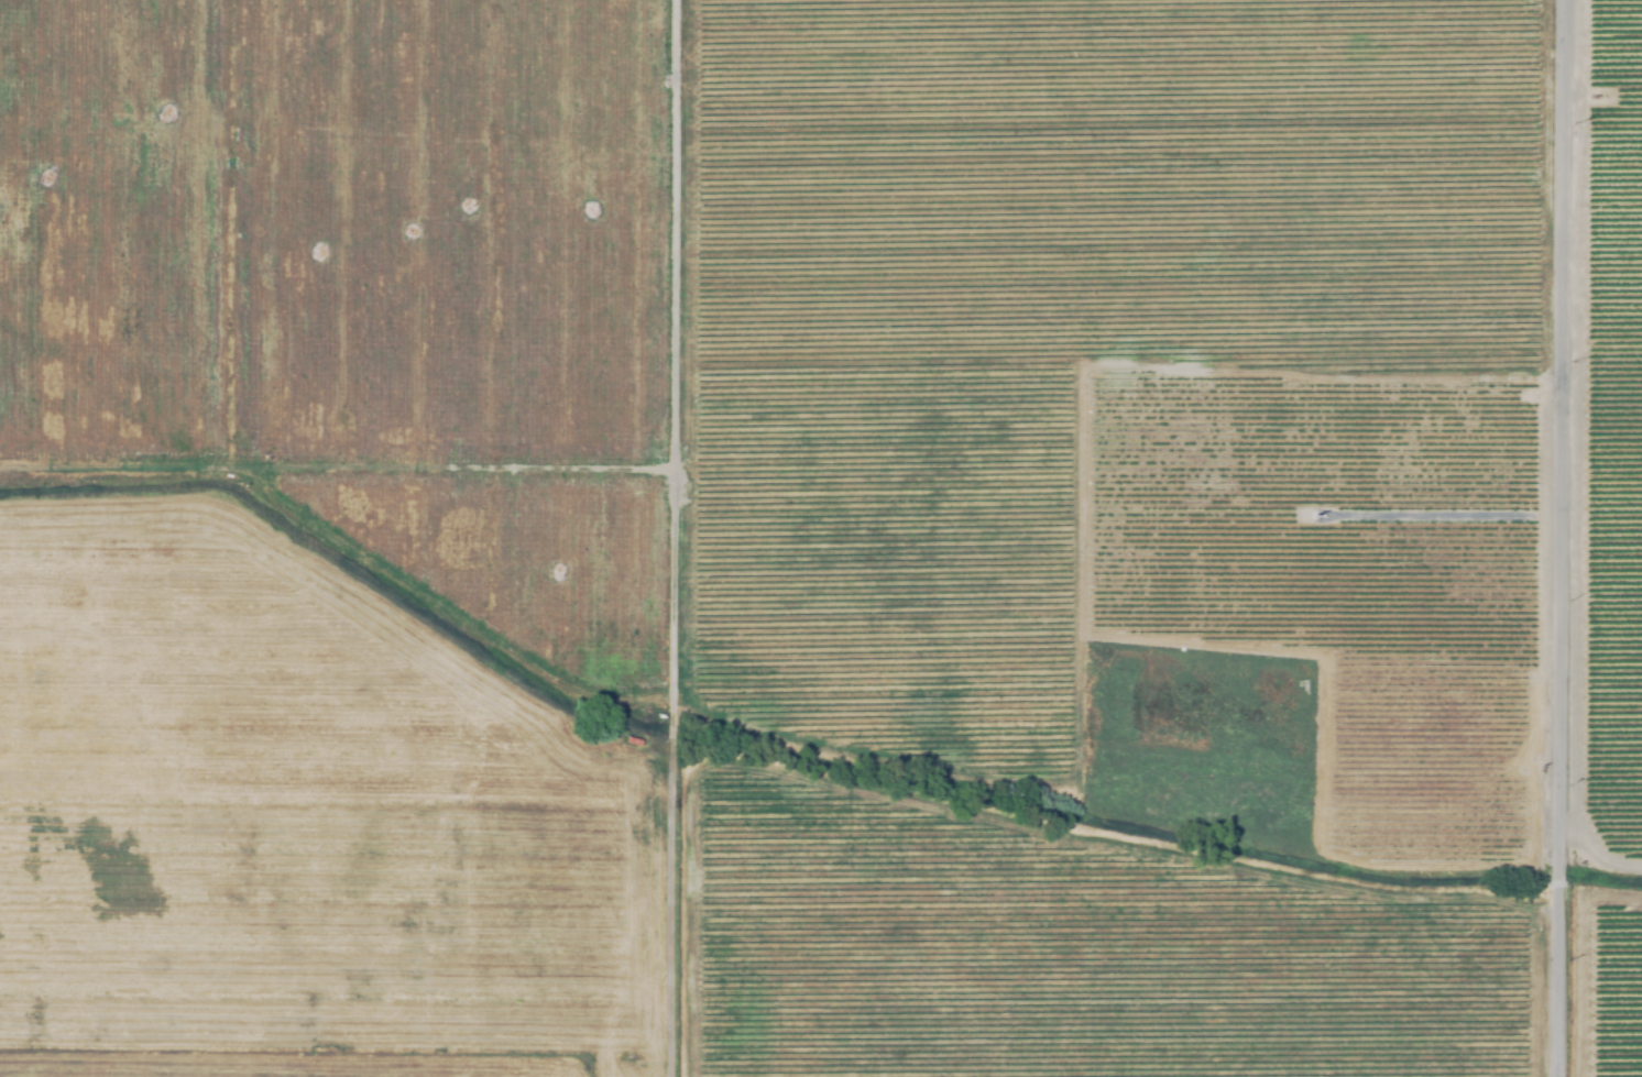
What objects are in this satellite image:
building: (1277, 526)
road: (1551, 538)
building: (1375, 611)
building: (633, 740)
building: (456, 779)

